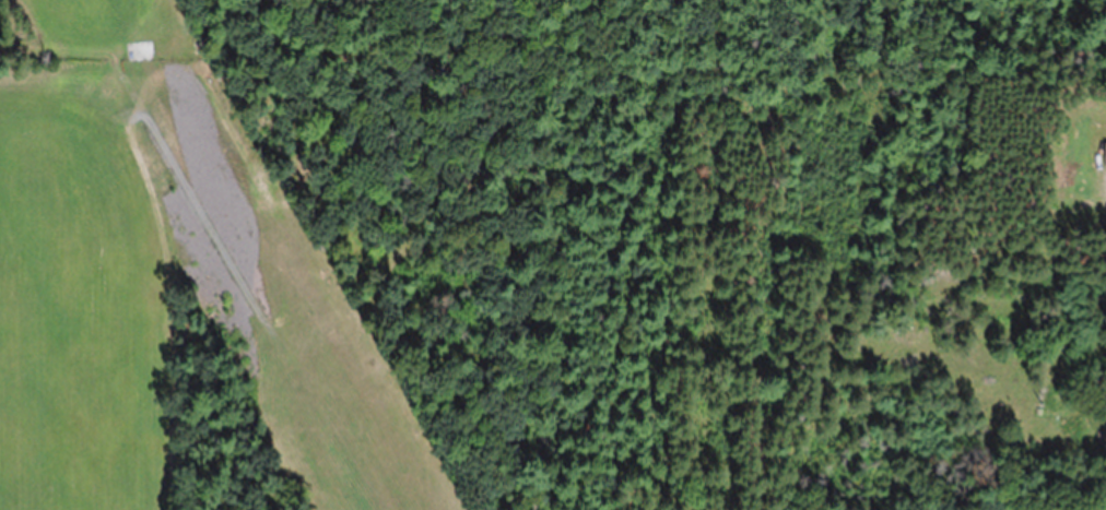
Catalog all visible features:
building: (1102, 154)

